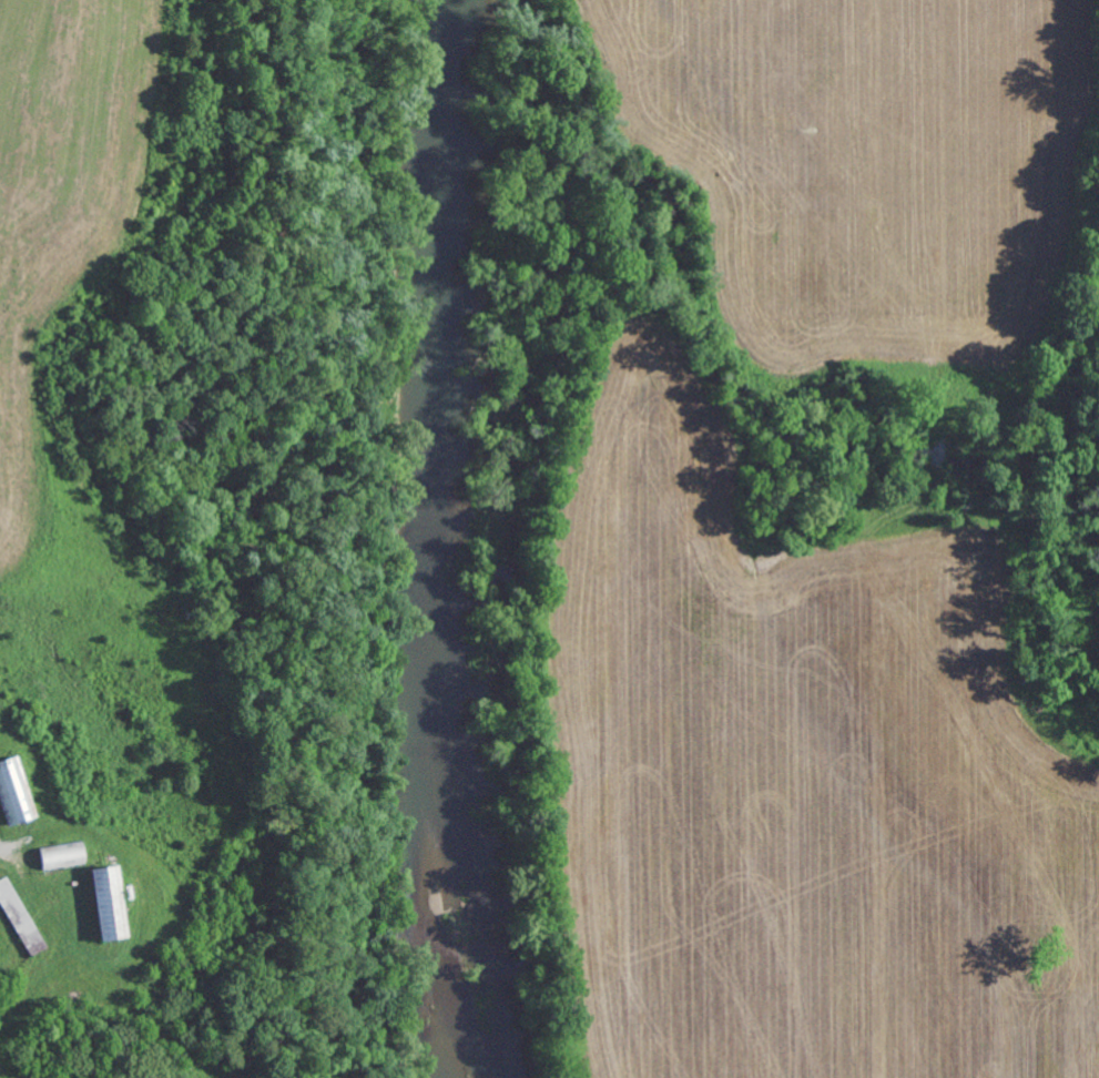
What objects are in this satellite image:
river: (431, 540)
building: (16, 792)
building: (111, 904)

